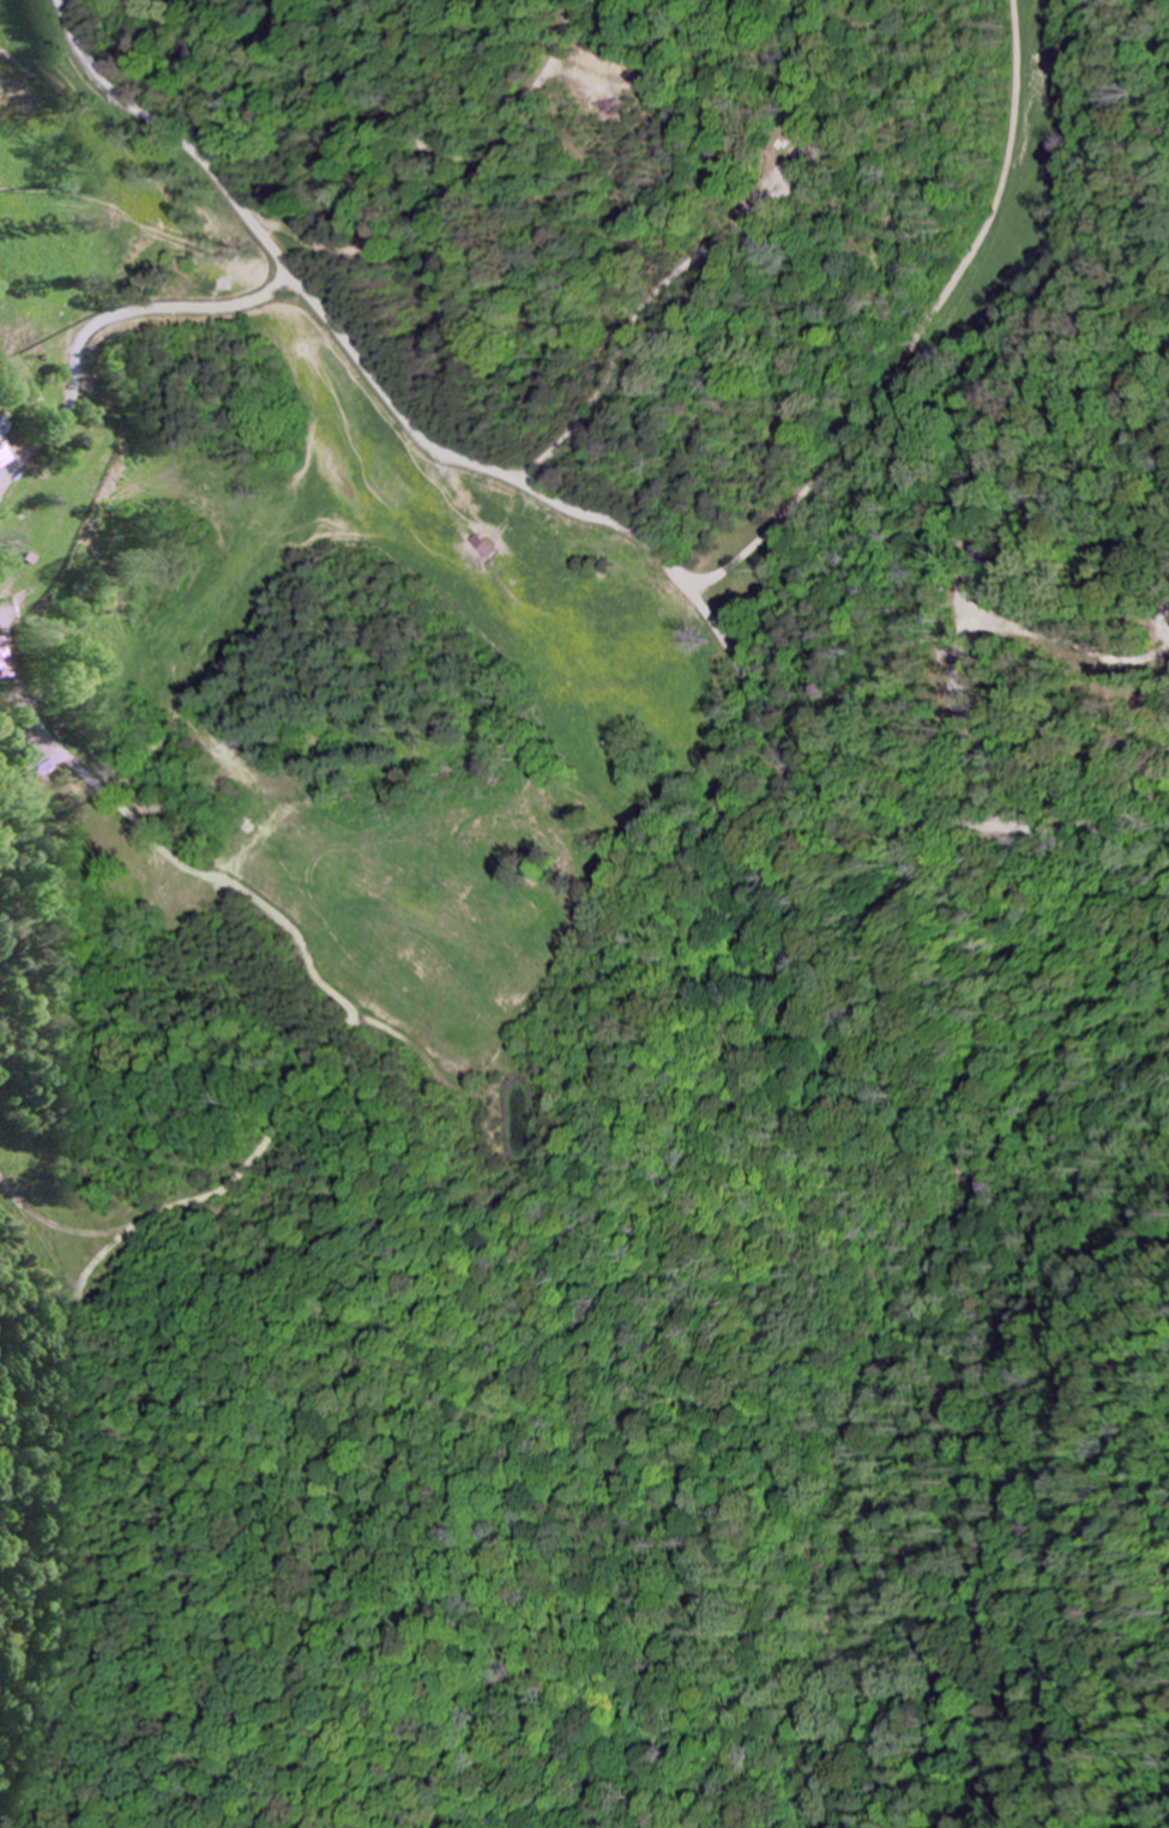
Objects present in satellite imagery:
road: (157, 126)
building: (1, 439)
building: (1, 457)
road: (550, 497)
building: (488, 547)
road: (978, 823)
road: (892, 1372)

